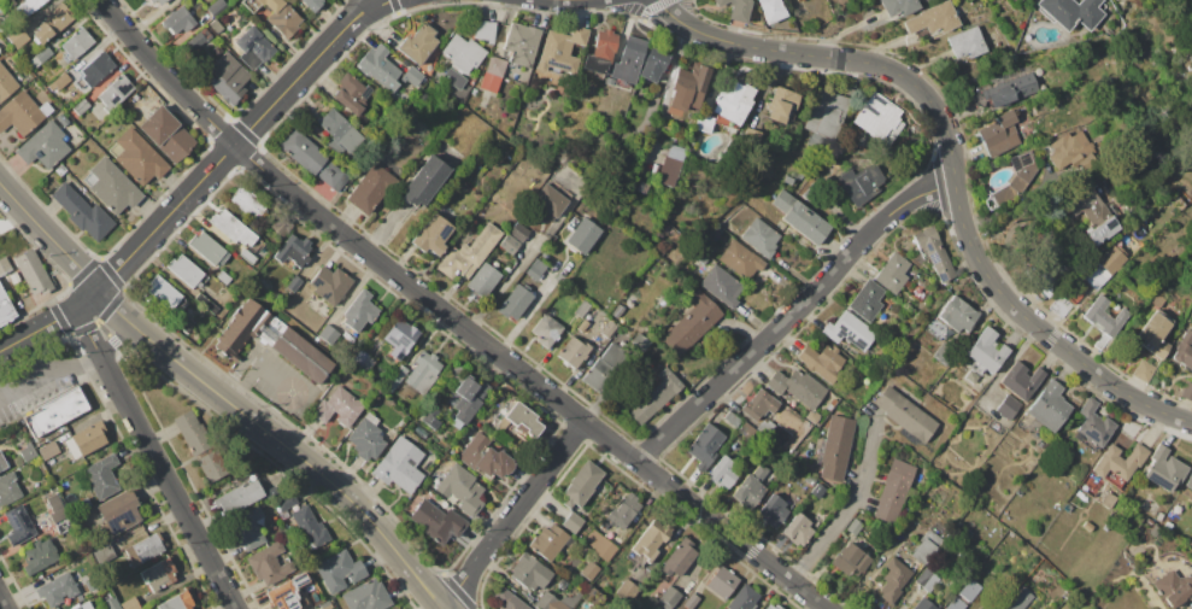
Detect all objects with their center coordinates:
building: (152, 0)
building: (160, 1)
building: (1012, 1)
building: (311, 4)
building: (899, 6)
building: (29, 7)
building: (216, 7)
road: (369, 8)
building: (736, 8)
building: (771, 10)
road: (354, 11)
building: (1073, 12)
building: (277, 16)
building: (933, 18)
building: (178, 21)
building: (1191, 21)
building: (53, 23)
building: (216, 27)
building: (485, 30)
building: (17, 36)
building: (522, 42)
building: (967, 42)
building: (77, 43)
building: (998, 43)
building: (195, 45)
building: (417, 45)
building: (253, 47)
building: (560, 49)
building: (1002, 49)
building: (601, 51)
building: (464, 53)
building: (43, 54)
building: (1191, 57)
building: (629, 59)
building: (653, 64)
building: (380, 66)
building: (96, 68)
building: (493, 74)
building: (412, 76)
building: (228, 78)
building: (453, 78)
building: (59, 81)
building: (6, 83)
building: (689, 87)
building: (1010, 89)
building: (116, 92)
building: (351, 94)
building: (733, 101)
building: (781, 104)
building: (80, 107)
building: (827, 112)
building: (23, 113)
building: (880, 117)
building: (63, 119)
building: (704, 123)
building: (340, 133)
building: (166, 134)
building: (999, 135)
building: (43, 146)
building: (1069, 150)
building: (139, 158)
building: (312, 158)
road: (219, 159)
building: (671, 164)
road: (955, 170)
building: (817, 175)
building: (1015, 178)
building: (788, 180)
building: (424, 181)
building: (862, 183)
building: (113, 187)
building: (370, 188)
building: (809, 195)
building: (548, 200)
building: (1078, 200)
building: (247, 203)
building: (83, 212)
building: (799, 217)
building: (1098, 222)
building: (236, 230)
building: (716, 234)
building: (431, 235)
road: (49, 236)
building: (582, 236)
building: (761, 236)
building: (513, 239)
building: (1129, 242)
building: (209, 250)
building: (294, 251)
building: (469, 253)
building: (934, 253)
building: (247, 257)
building: (701, 258)
building: (741, 260)
building: (4, 265)
building: (1103, 268)
building: (535, 269)
building: (186, 271)
building: (33, 273)
building: (892, 273)
building: (224, 277)
building: (483, 280)
building: (921, 282)
building: (294, 283)
building: (330, 285)
building: (722, 286)
building: (164, 293)
building: (867, 300)
building: (515, 301)
building: (206, 303)
building: (1061, 306)
building: (5, 309)
building: (582, 309)
building: (618, 310)
building: (359, 311)
road: (793, 314)
building: (957, 314)
road: (122, 316)
building: (1105, 316)
road: (452, 317)
road: (524, 317)
road: (46, 324)
building: (691, 324)
building: (582, 326)
building: (609, 328)
building: (546, 330)
building: (849, 330)
building: (1155, 333)
building: (328, 334)
road: (116, 335)
building: (400, 338)
building: (271, 341)
building: (639, 344)
building: (1184, 350)
building: (572, 352)
building: (985, 352)
building: (944, 353)
road: (246, 357)
building: (358, 358)
road: (252, 362)
building: (822, 362)
building: (366, 364)
building: (603, 367)
building: (1144, 370)
road: (47, 371)
building: (421, 374)
building: (395, 377)
building: (1021, 380)
road: (224, 385)
road: (242, 385)
road: (282, 385)
building: (797, 386)
building: (1186, 391)
building: (656, 397)
building: (468, 399)
building: (759, 404)
building: (832, 404)
building: (1050, 405)
building: (1009, 406)
building: (339, 408)
building: (55, 411)
building: (906, 415)
building: (430, 417)
building: (812, 417)
building: (522, 420)
building: (732, 420)
building: (1094, 423)
building: (746, 431)
building: (771, 432)
building: (192, 433)
building: (366, 438)
building: (86, 440)
building: (705, 446)
building: (836, 447)
building: (48, 450)
building: (28, 451)
road: (153, 453)
building: (485, 457)
building: (2, 462)
road: (307, 463)
building: (1118, 463)
building: (211, 465)
building: (400, 465)
building: (1163, 469)
building: (723, 473)
building: (102, 476)
building: (810, 480)
building: (1188, 481)
building: (581, 485)
building: (8, 488)
building: (460, 488)
building: (751, 488)
building: (817, 491)
building: (893, 491)
building: (239, 497)
building: (451, 499)
building: (1109, 500)
building: (284, 505)
road: (849, 508)
building: (57, 509)
building: (622, 511)
building: (773, 511)
building: (119, 513)
road: (513, 515)
building: (436, 521)
building: (572, 522)
building: (18, 526)
building: (1087, 526)
building: (65, 527)
building: (853, 527)
building: (957, 527)
building: (249, 528)
building: (310, 528)
building: (798, 529)
building: (967, 531)
building: (1153, 531)
building: (548, 541)
building: (648, 543)
building: (600, 545)
building: (926, 545)
building: (145, 549)
building: (39, 556)
building: (680, 558)
building: (850, 560)
building: (269, 564)
building: (339, 570)
building: (589, 570)
building: (530, 572)
building: (159, 574)
building: (893, 579)
building: (927, 580)
building: (722, 581)
building: (1173, 588)
building: (57, 590)
building: (627, 591)
building: (287, 592)
building: (964, 595)
building: (366, 596)
building: (594, 596)
building: (669, 598)
building: (744, 598)
building: (1017, 599)
building: (506, 601)
building: (570, 601)
building: (177, 602)
building: (547, 602)
road: (2, 603)
building: (112, 603)
building: (130, 603)
building: (327, 604)
building: (923, 604)
building: (82, 605)
building: (771, 607)

